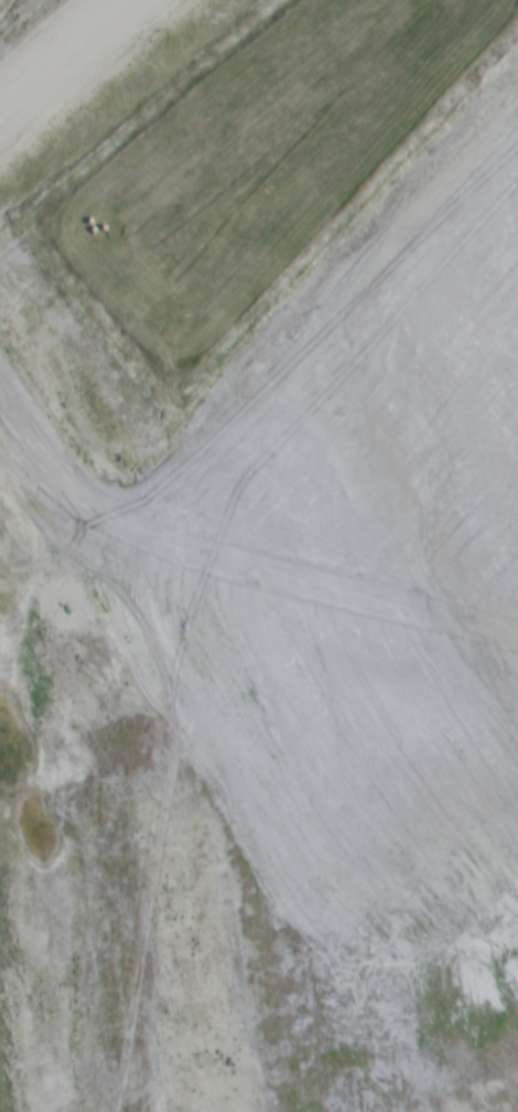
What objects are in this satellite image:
quarry: (259, 556)

